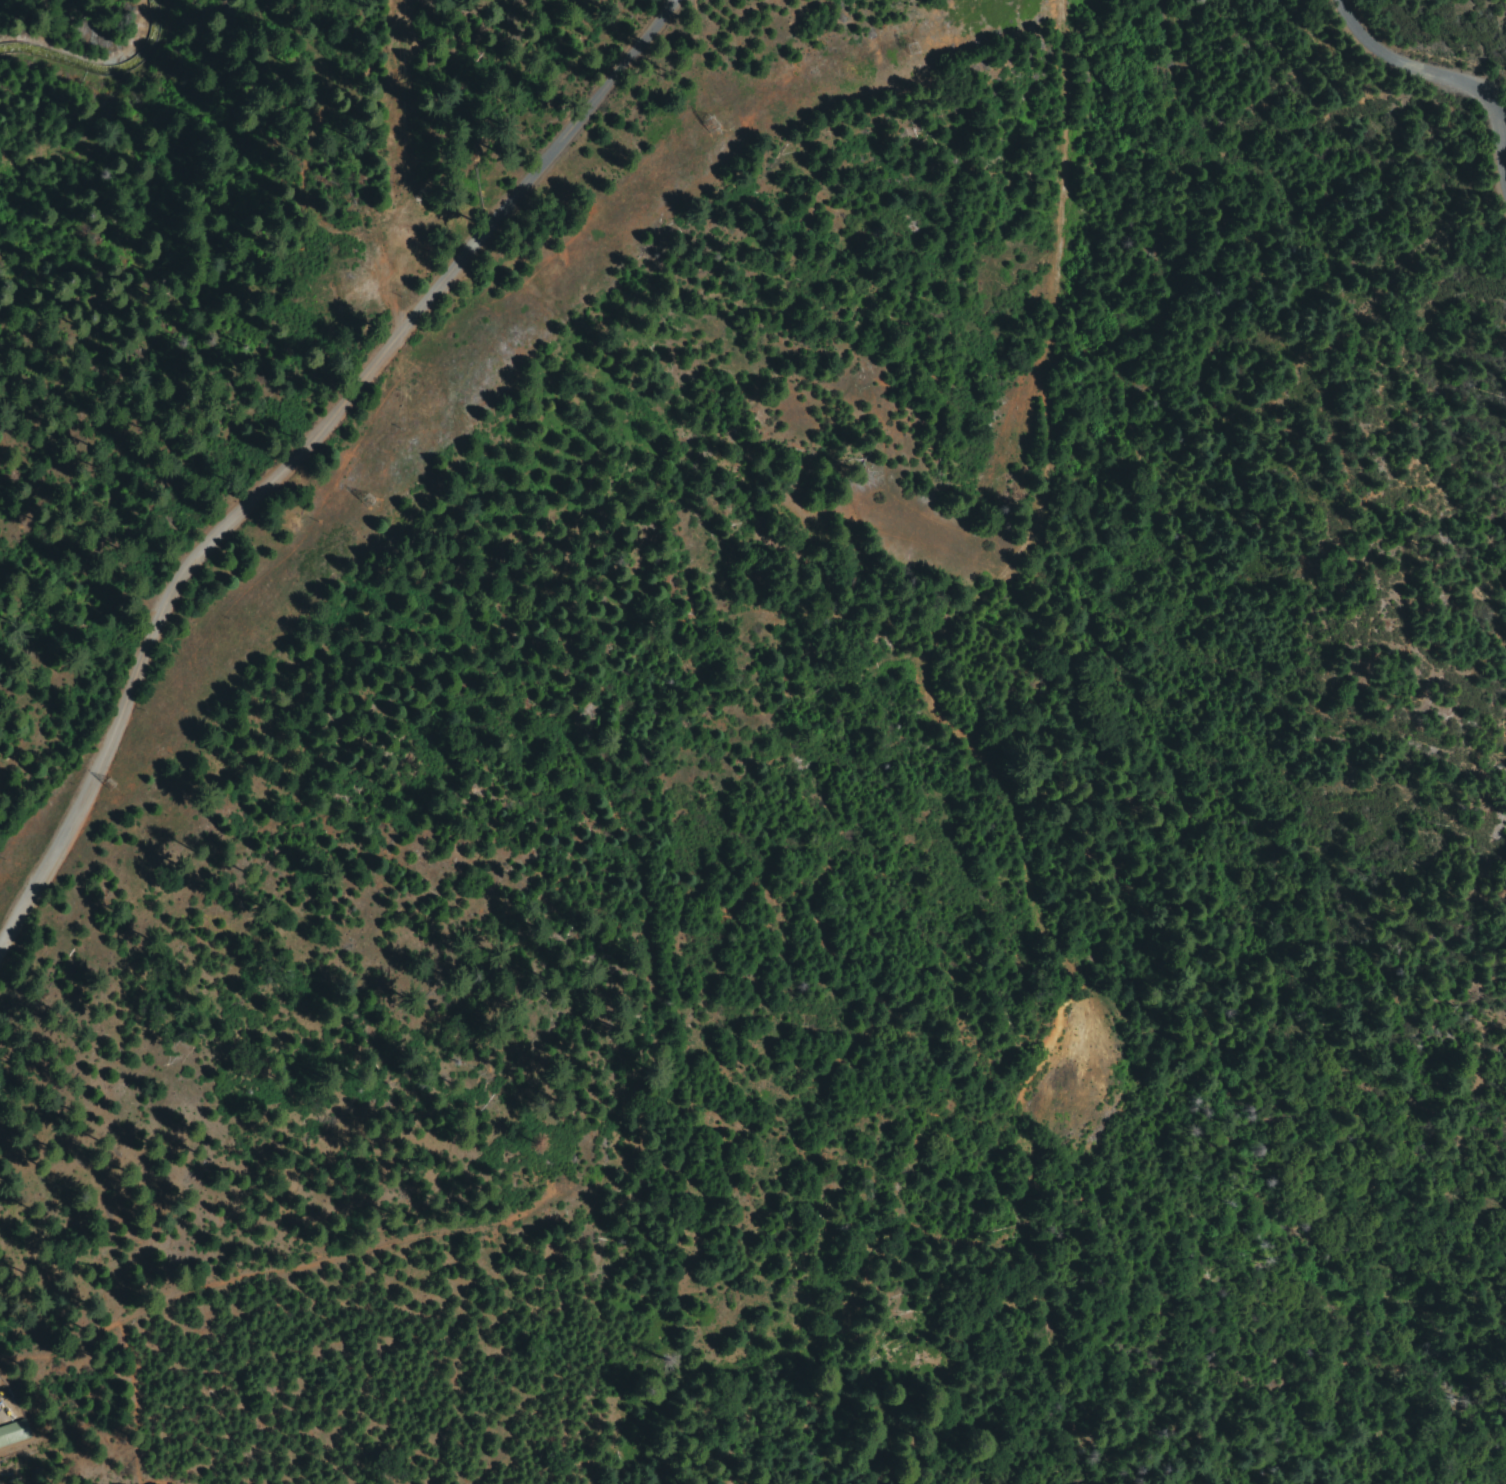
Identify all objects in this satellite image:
power tower: (910, 51)
road: (1410, 90)
power tower: (710, 127)
road: (312, 365)
power tower: (365, 504)
power tower: (112, 788)
building: (15, 1432)

